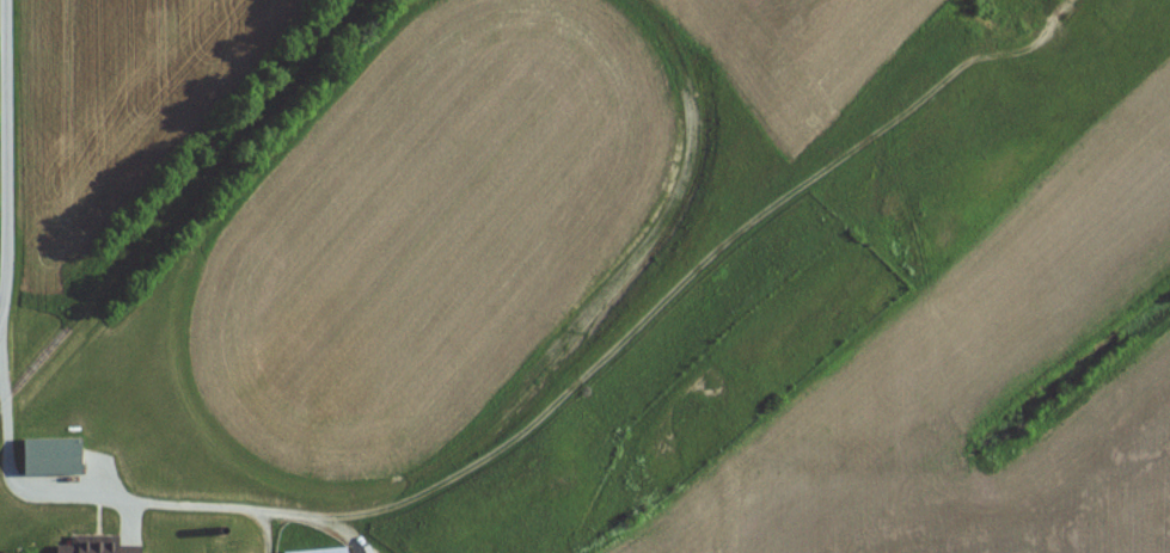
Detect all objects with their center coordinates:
road: (5, 156)
road: (0, 314)
building: (51, 453)
road: (30, 489)
building: (99, 547)
building: (319, 549)

